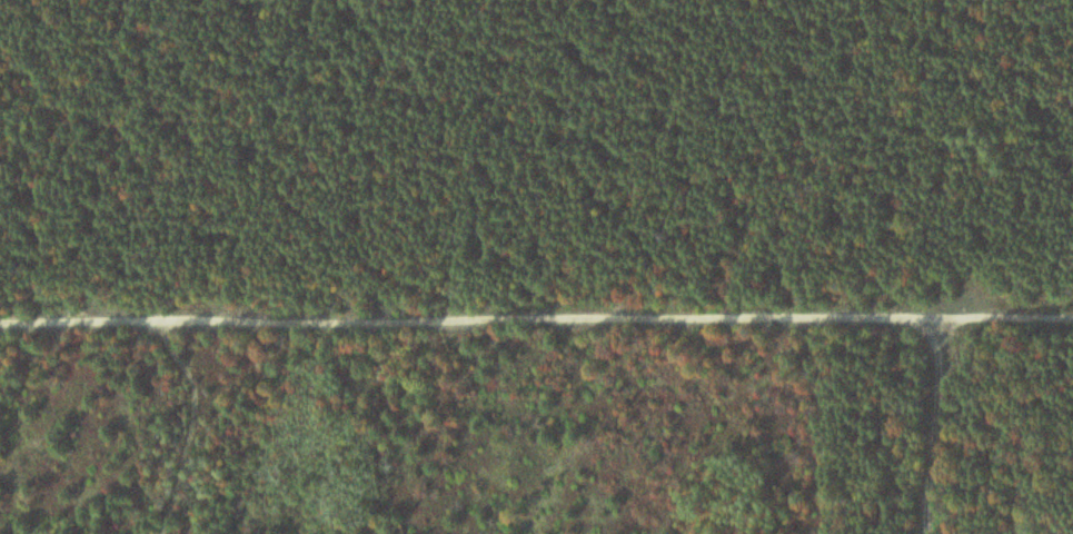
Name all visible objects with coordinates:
road: (536, 319)
road: (937, 424)
road: (183, 428)

